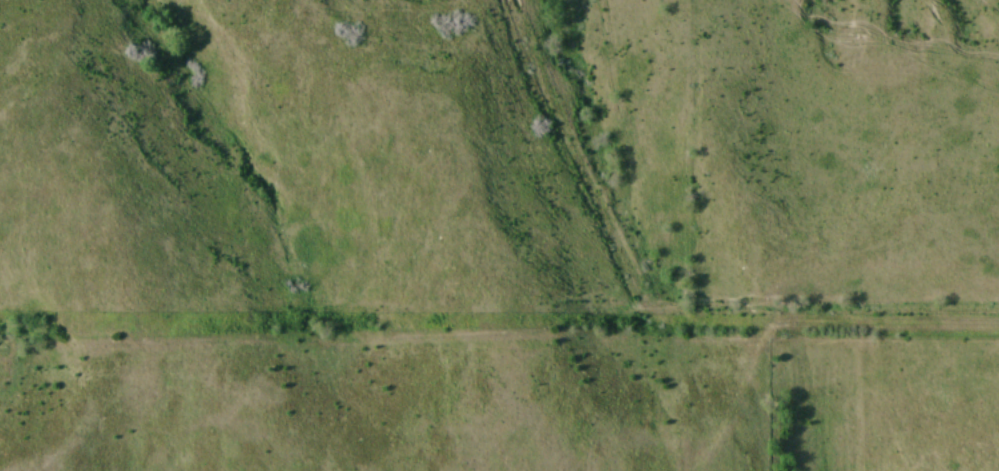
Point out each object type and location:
road: (841, 314)

